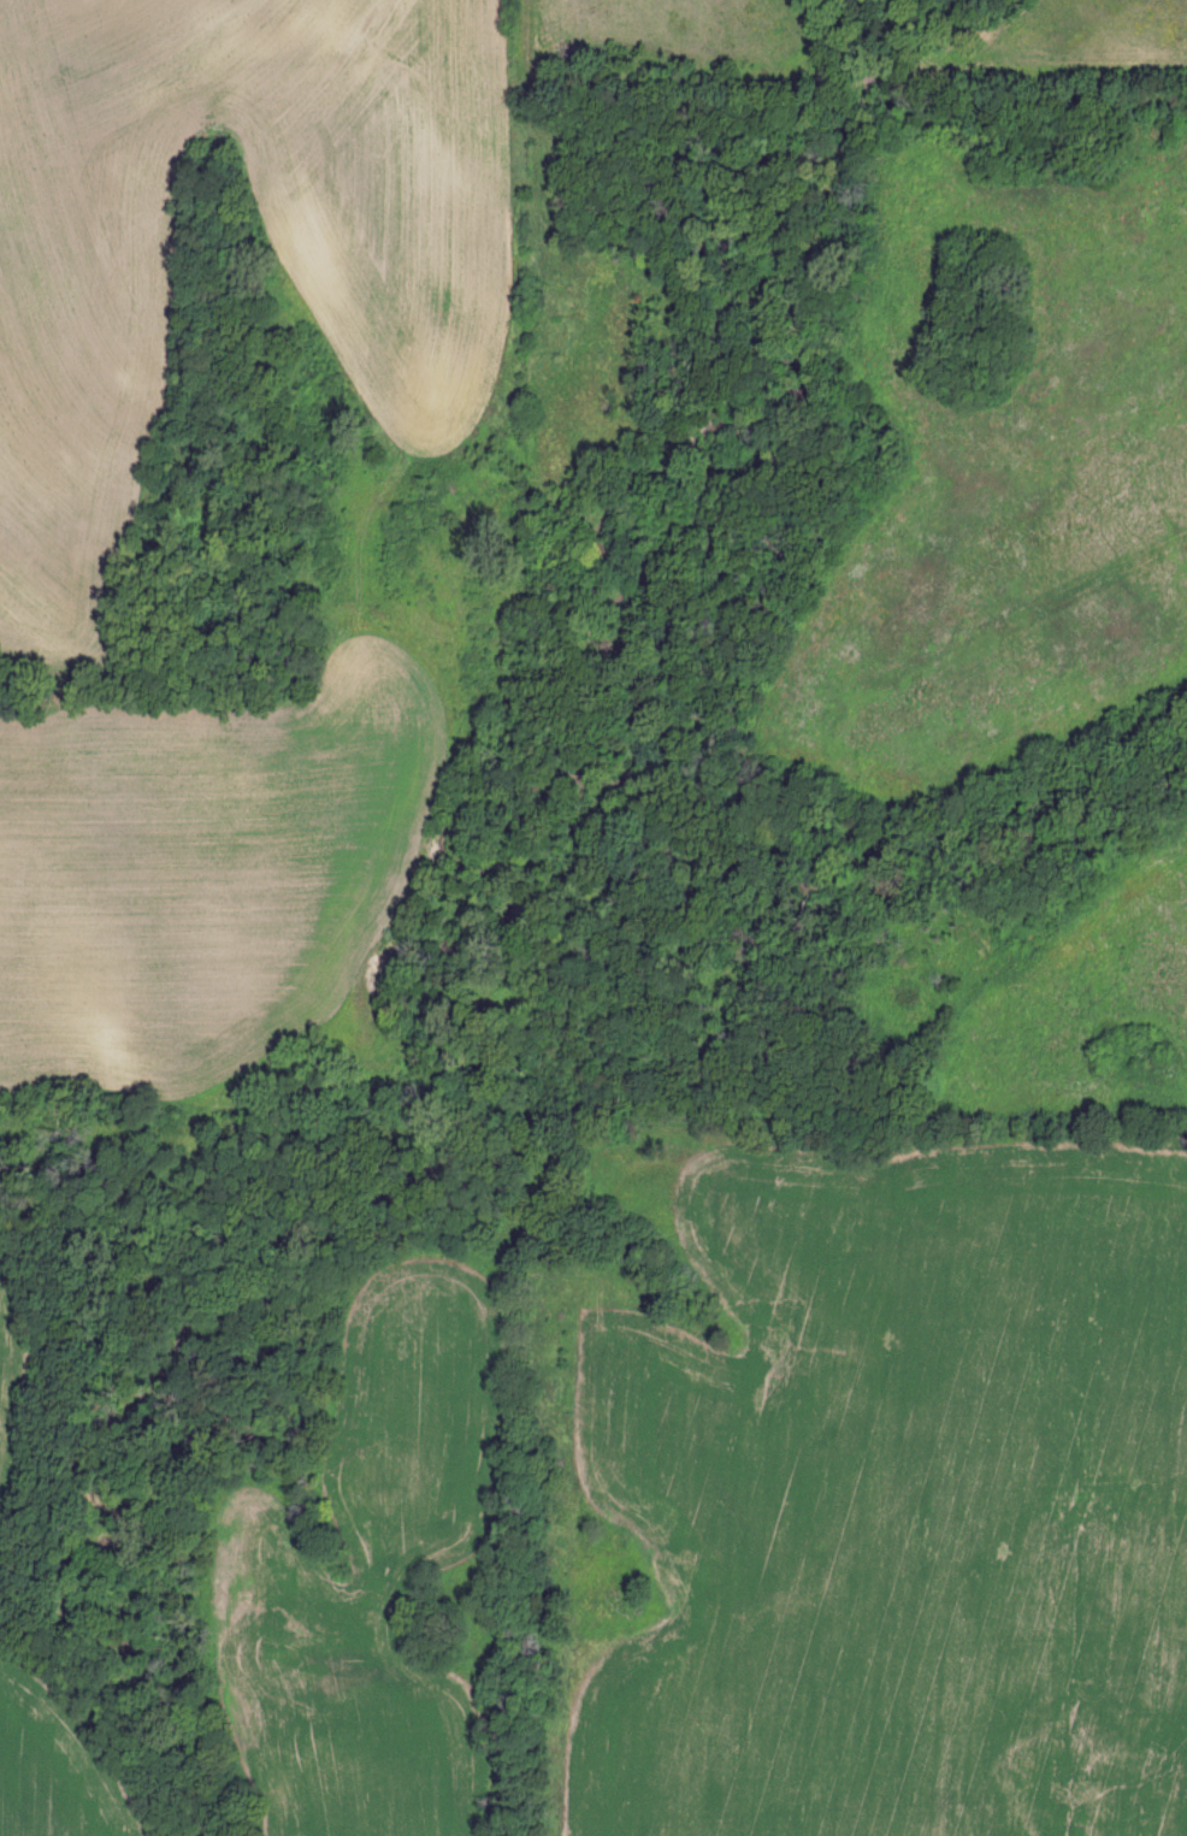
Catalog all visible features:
road: (841, 22)

